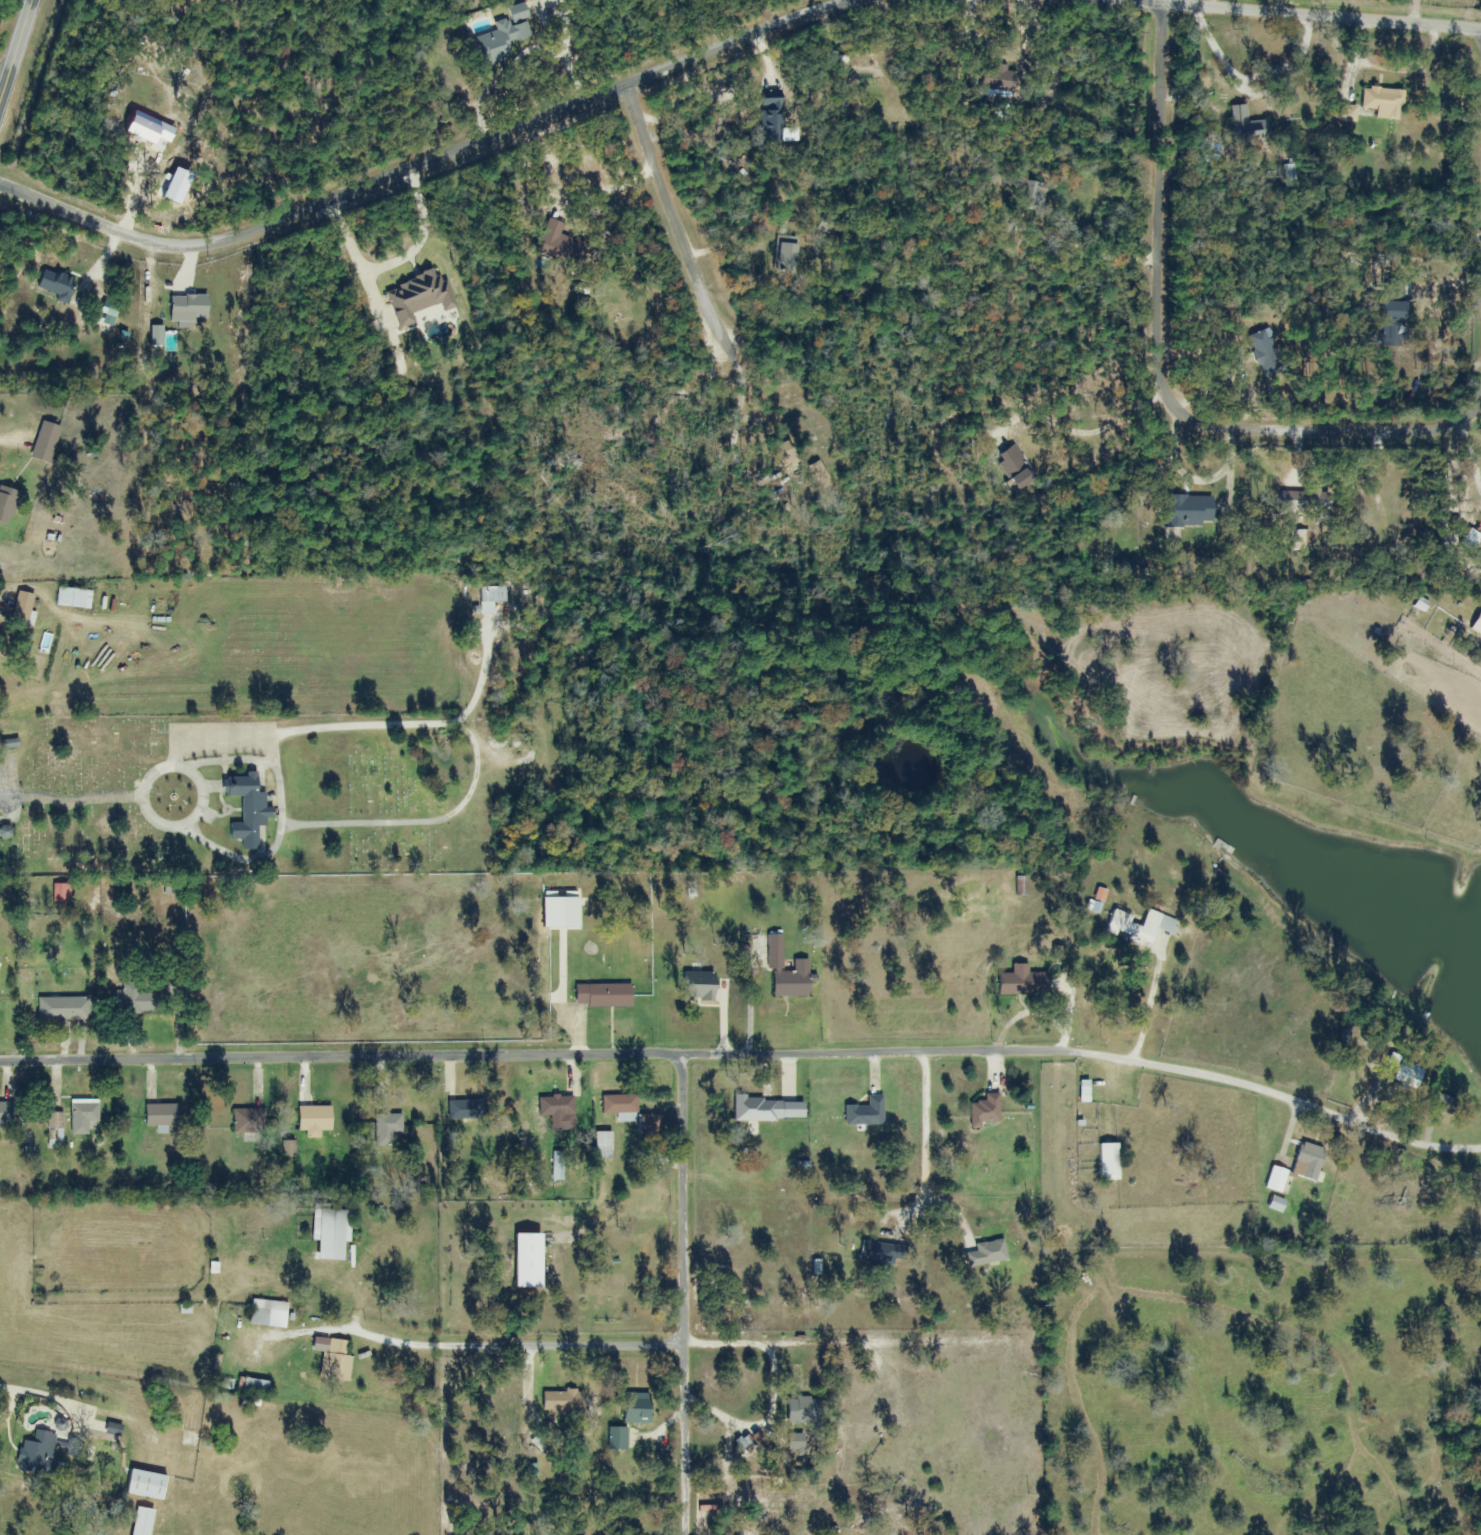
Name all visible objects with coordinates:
building: (516, 13)
road: (1275, 13)
building: (500, 40)
road: (15, 49)
building: (819, 77)
building: (998, 79)
building: (1382, 103)
building: (1347, 114)
building: (771, 120)
building: (1238, 123)
road: (433, 159)
building: (1289, 177)
building: (1028, 196)
road: (684, 230)
building: (554, 244)
building: (784, 254)
building: (55, 286)
building: (1390, 313)
building: (1264, 354)
road: (1266, 432)
building: (44, 443)
building: (779, 458)
building: (1013, 468)
building: (1310, 503)
building: (6, 507)
building: (1187, 512)
building: (1469, 541)
building: (1122, 568)
building: (73, 599)
building: (489, 599)
building: (21, 610)
park: (95, 797)
road: (70, 799)
building: (245, 810)
building: (60, 894)
building: (559, 907)
building: (1140, 928)
building: (785, 973)
building: (1021, 983)
building: (602, 996)
building: (131, 1001)
road: (1156, 1001)
building: (62, 1008)
road: (726, 1054)
building: (1404, 1073)
building: (1083, 1093)
building: (618, 1105)
building: (465, 1110)
building: (753, 1110)
building: (557, 1112)
building: (984, 1112)
building: (865, 1114)
building: (6, 1116)
building: (82, 1116)
building: (159, 1117)
building: (313, 1121)
building: (248, 1122)
building: (386, 1130)
building: (649, 1130)
building: (54, 1132)
building: (602, 1147)
building: (1108, 1163)
building: (1307, 1163)
building: (556, 1167)
building: (1275, 1181)
building: (331, 1234)
building: (878, 1255)
building: (985, 1255)
building: (526, 1263)
road: (681, 1294)
building: (268, 1314)
road: (484, 1346)
building: (335, 1362)
building: (561, 1402)
building: (635, 1408)
building: (802, 1411)
building: (616, 1439)
building: (189, 1440)
building: (794, 1443)
building: (37, 1454)
building: (145, 1485)

